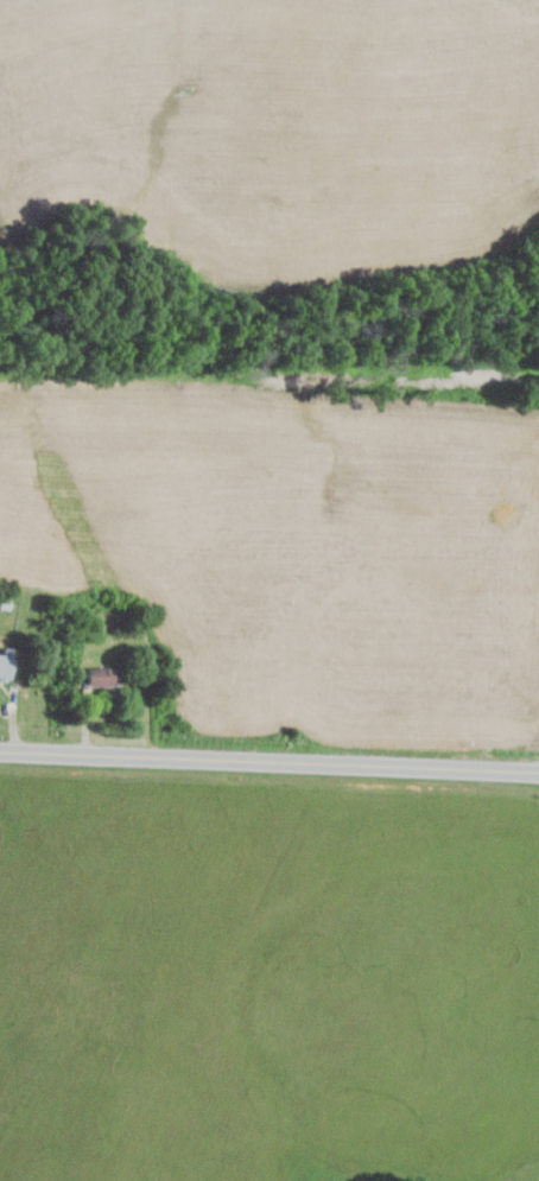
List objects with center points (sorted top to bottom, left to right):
building: (6, 666)
building: (101, 678)
road: (268, 760)

